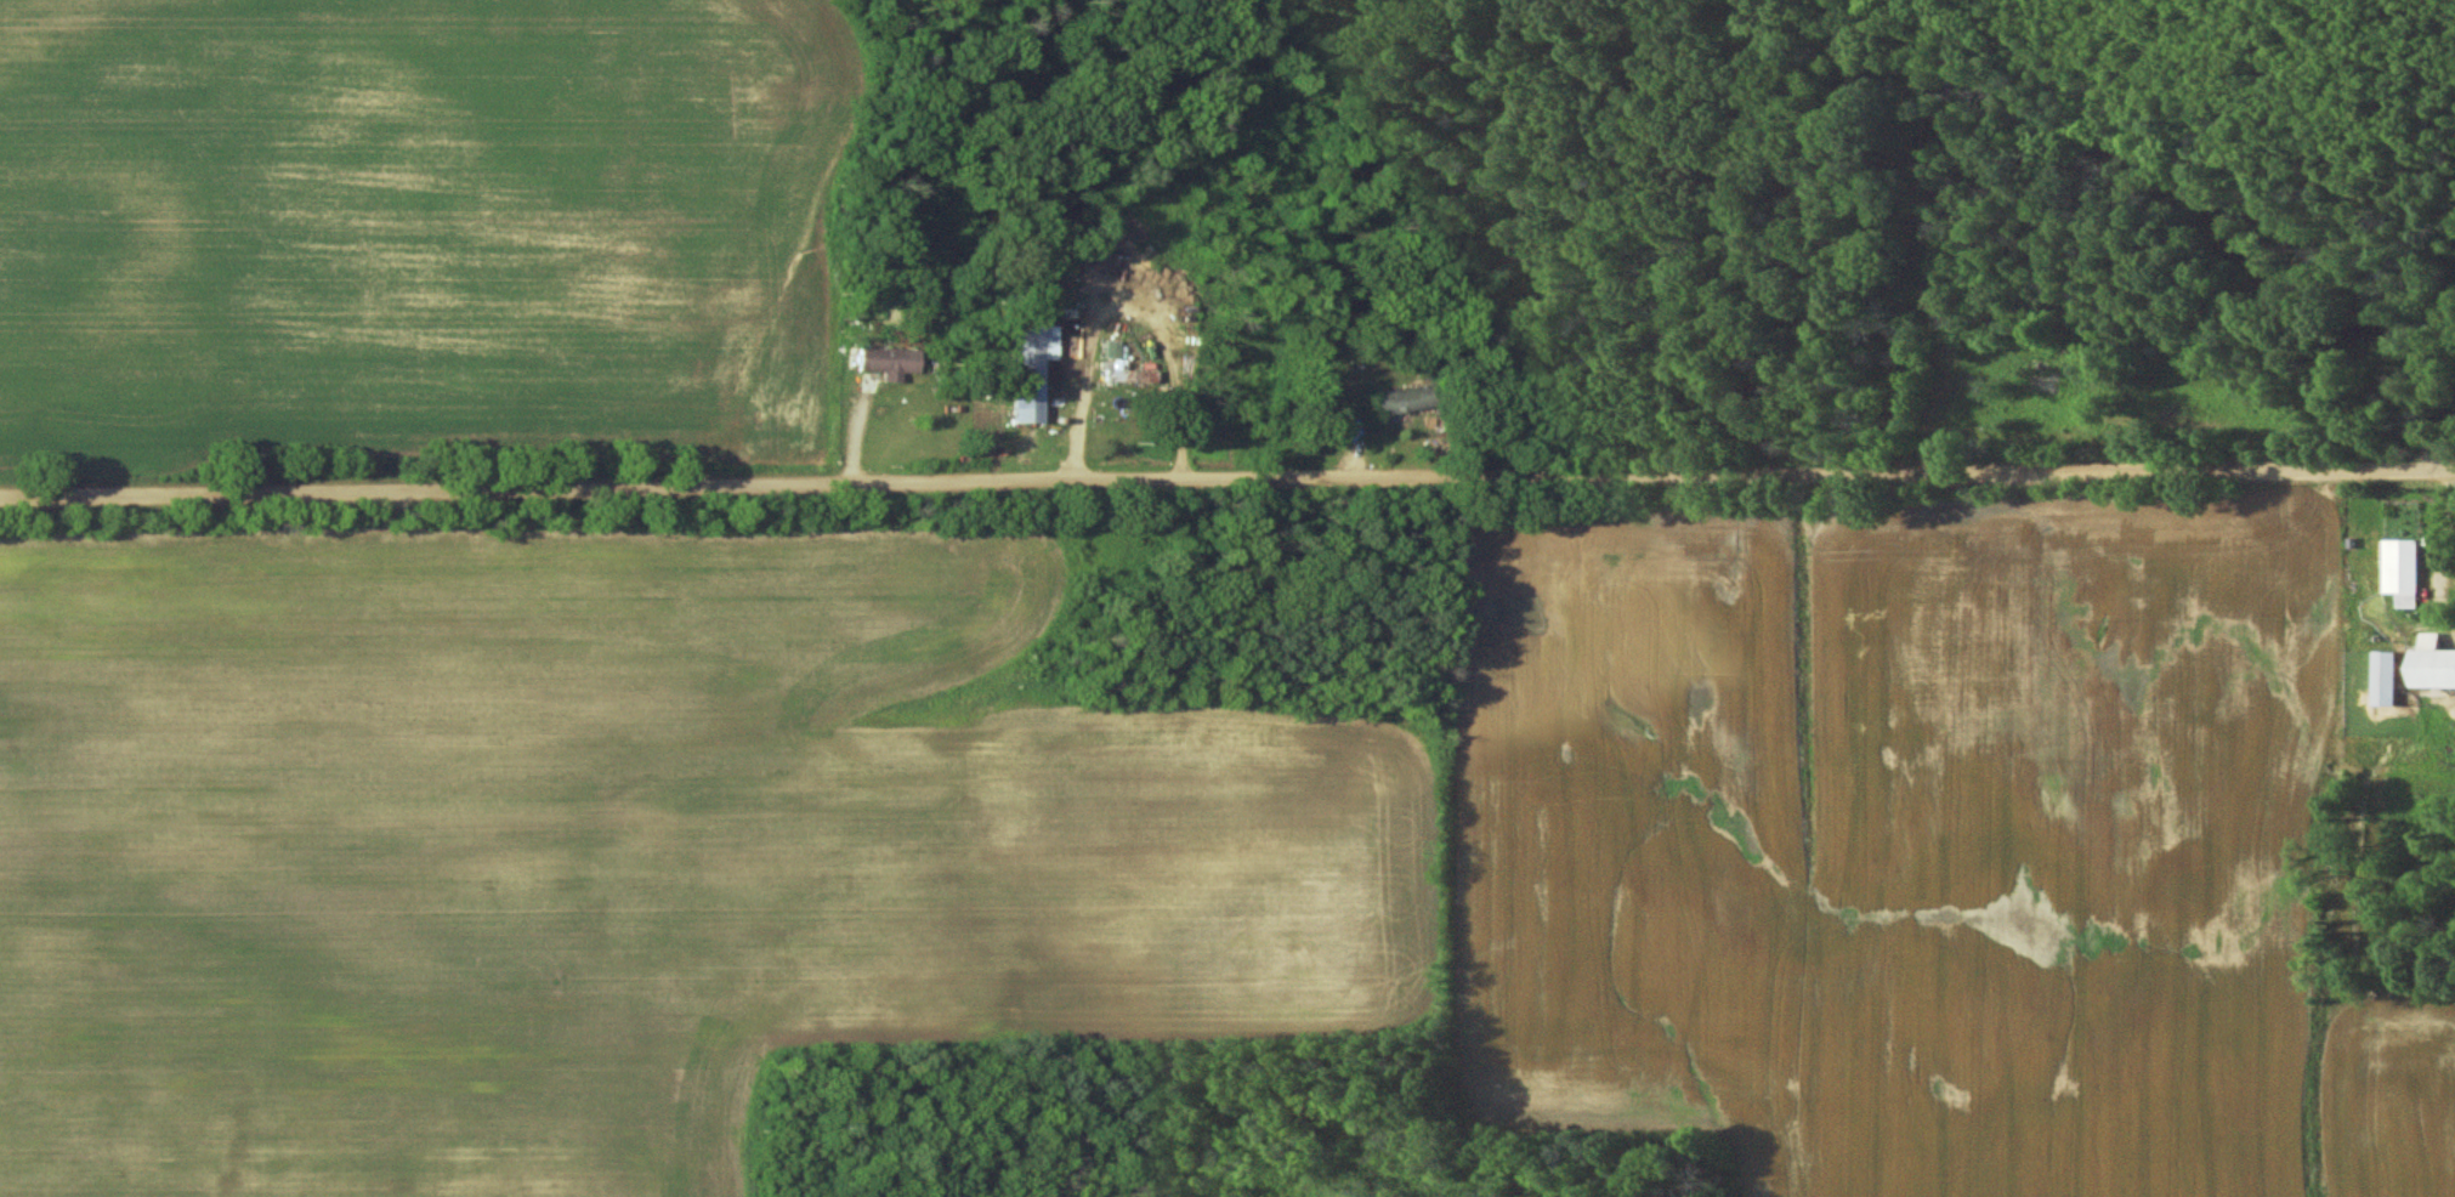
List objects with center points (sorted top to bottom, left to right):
building: (885, 362)
building: (1032, 370)
building: (1399, 401)
road: (1081, 438)
road: (1227, 483)
building: (2402, 571)
building: (2437, 663)
building: (2386, 679)

